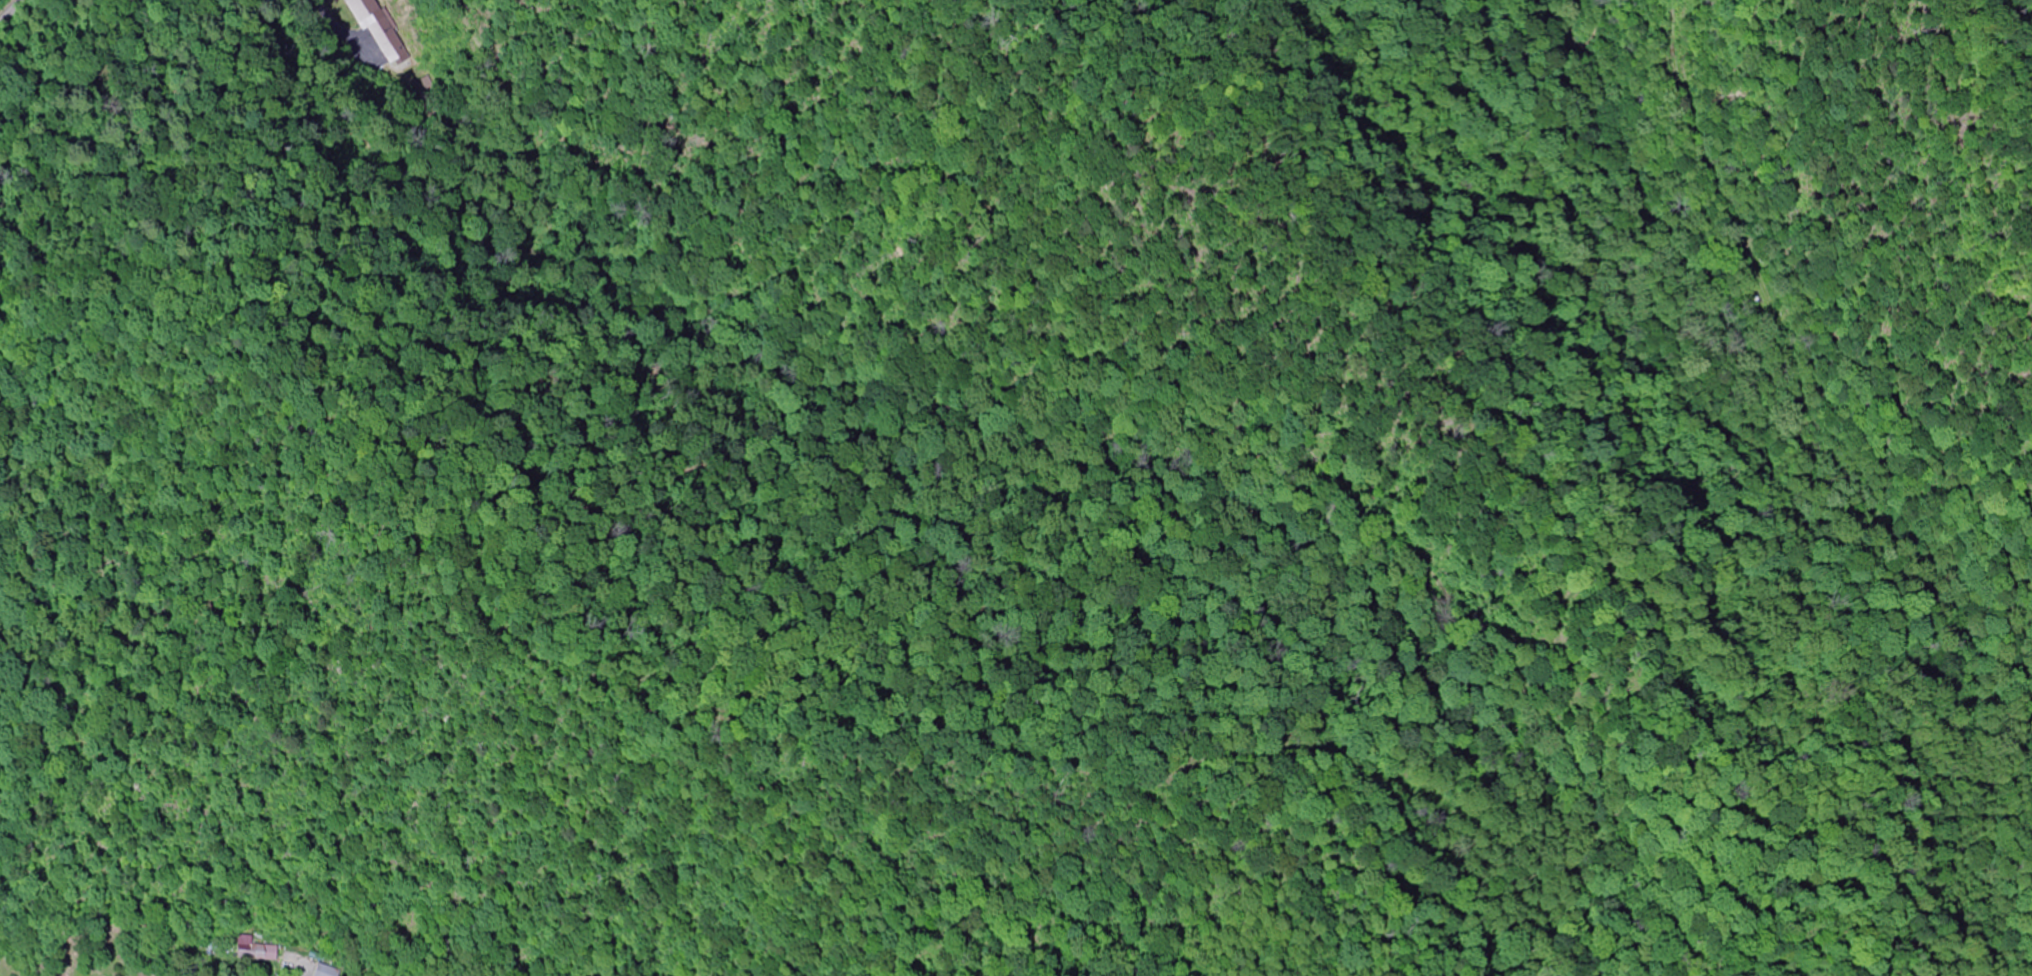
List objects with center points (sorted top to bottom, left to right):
building: (254, 951)
building: (320, 971)

